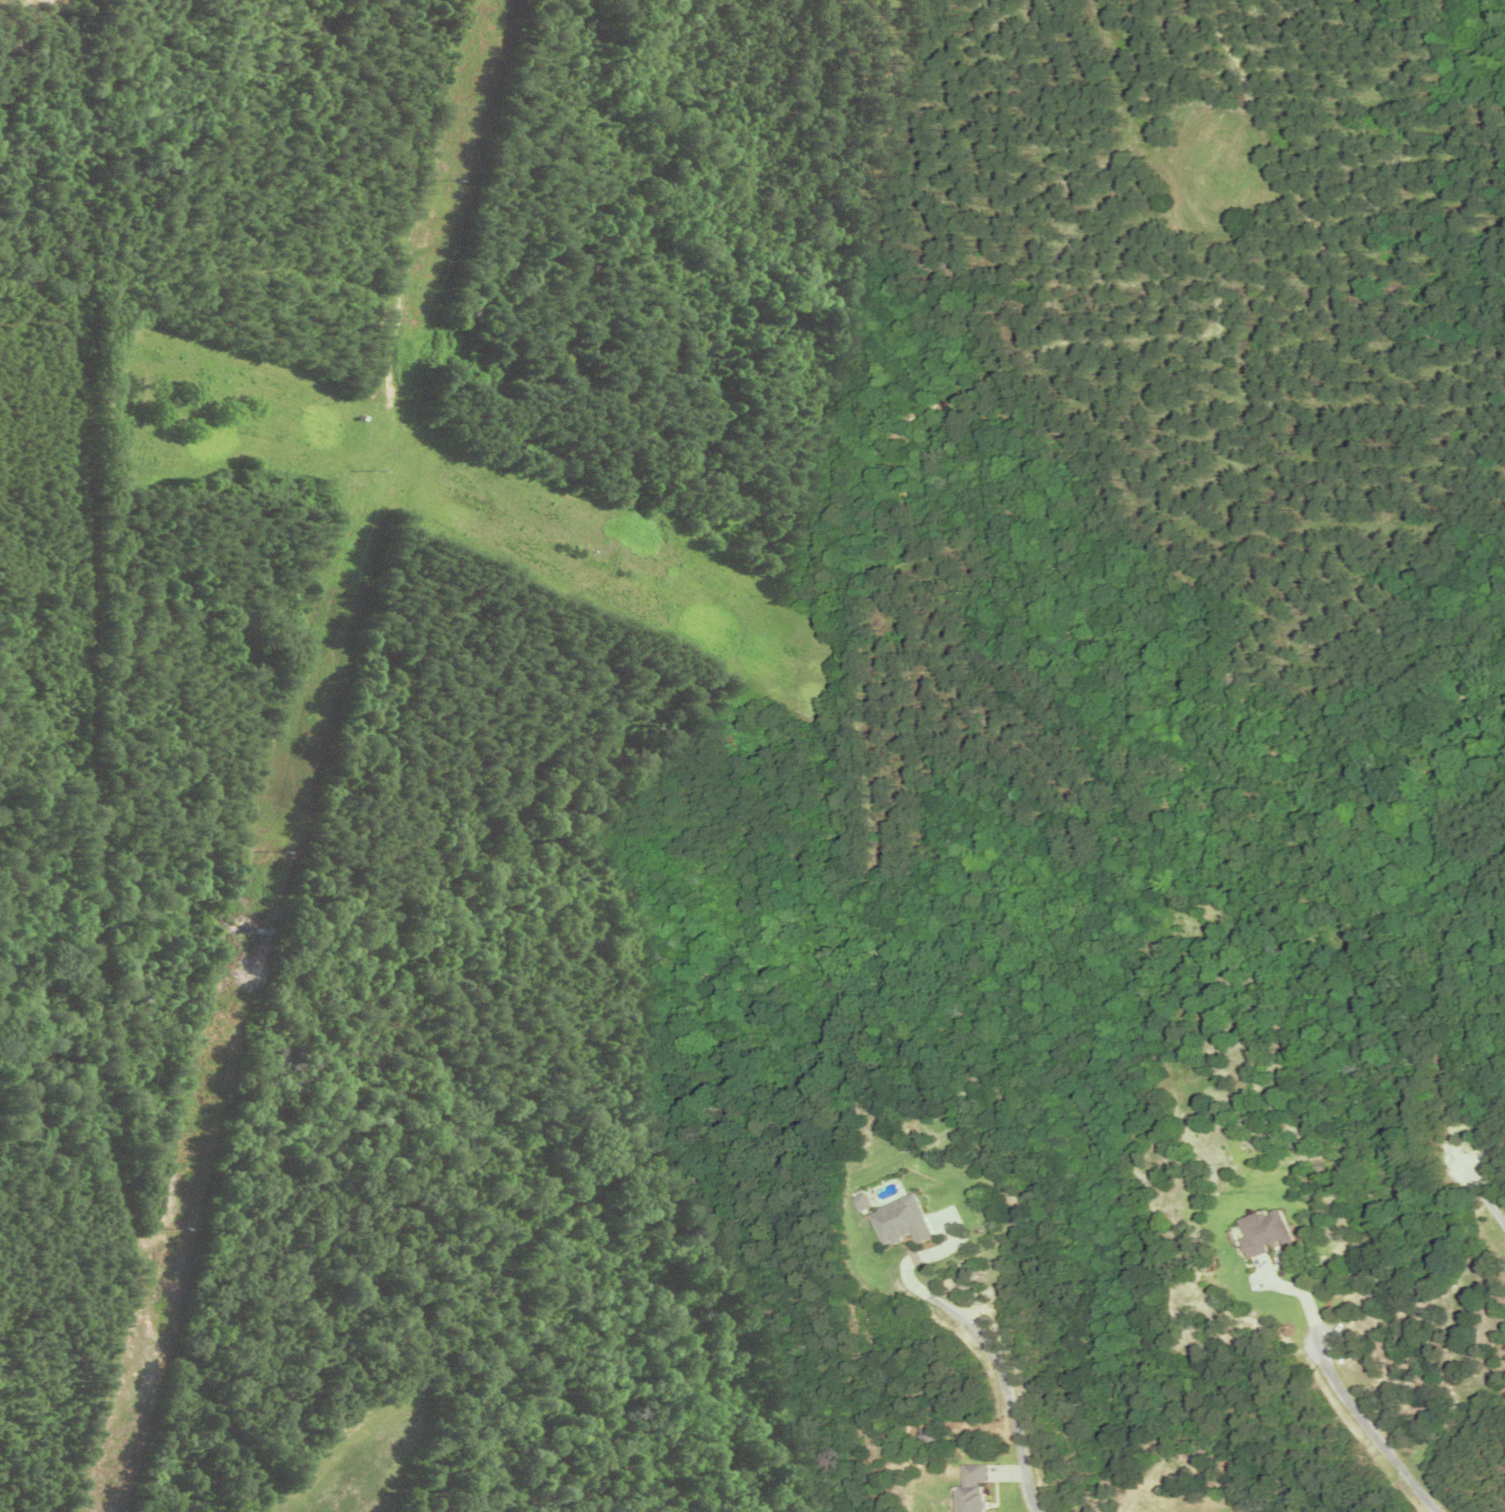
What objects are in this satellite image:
road: (82, 8)
road: (112, 219)
road: (1483, 1153)
road: (1478, 1194)
building: (1263, 1234)
road: (1338, 1387)
road: (1007, 1395)

